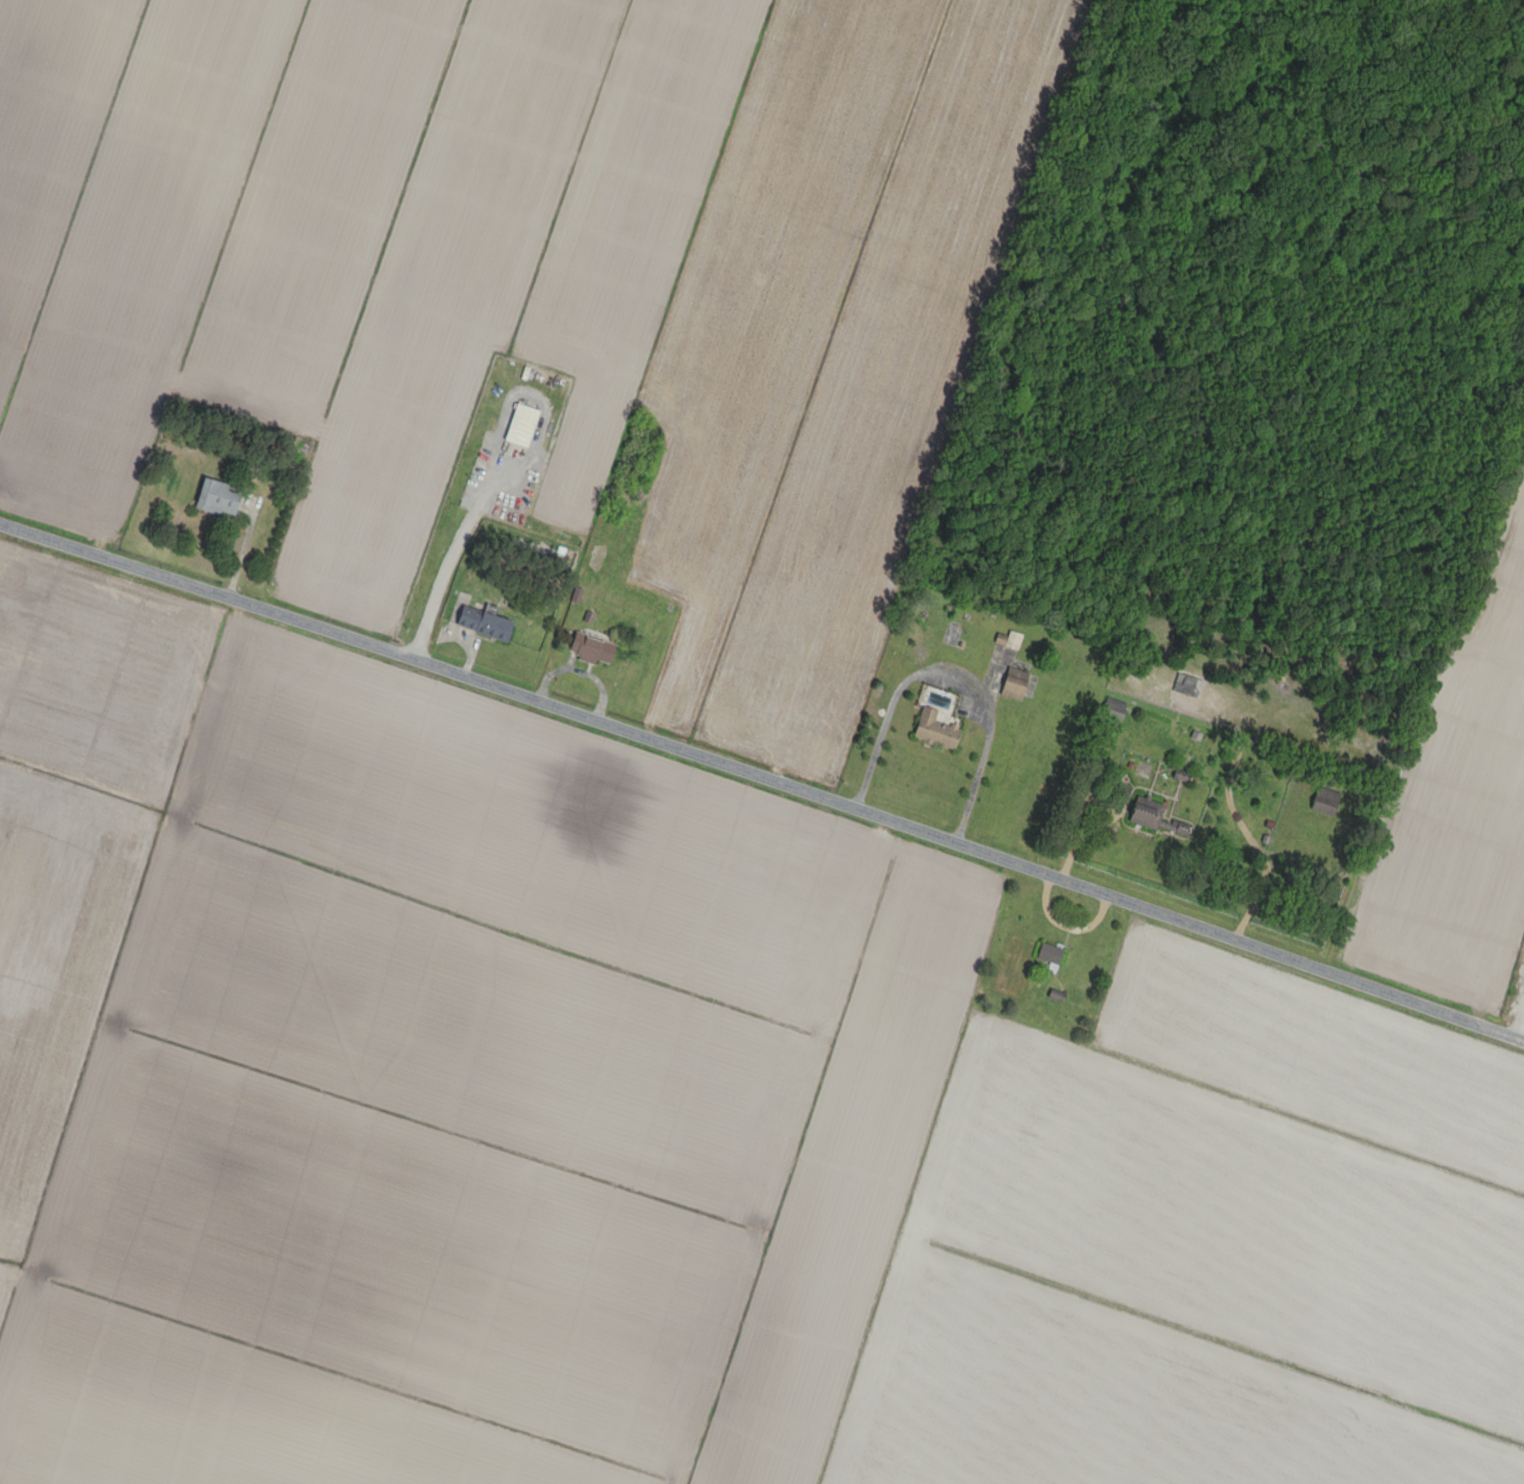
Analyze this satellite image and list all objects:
building: (520, 425)
building: (215, 498)
building: (482, 623)
building: (1008, 640)
building: (590, 649)
road: (950, 674)
building: (1012, 683)
building: (1186, 686)
building: (1113, 708)
building: (933, 730)
road: (768, 780)
building: (1117, 799)
building: (1324, 801)
building: (1153, 817)
building: (1048, 954)

